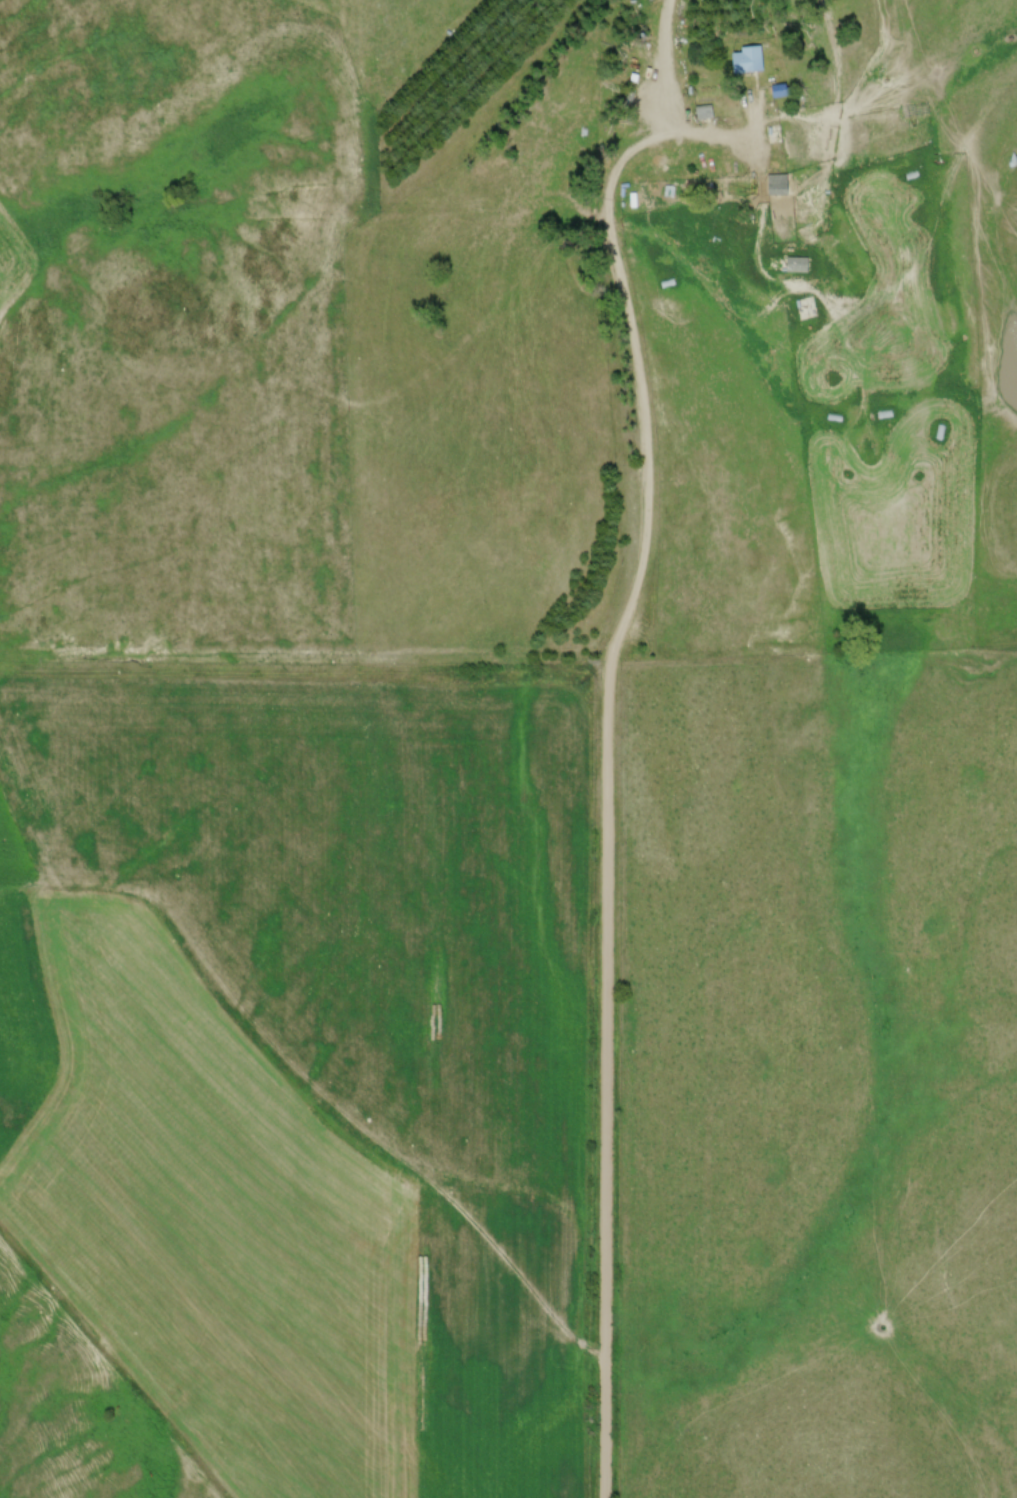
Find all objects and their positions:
building: (745, 63)
building: (705, 115)
road: (743, 139)
building: (777, 188)
building: (795, 267)
road: (630, 310)
road: (606, 1071)

